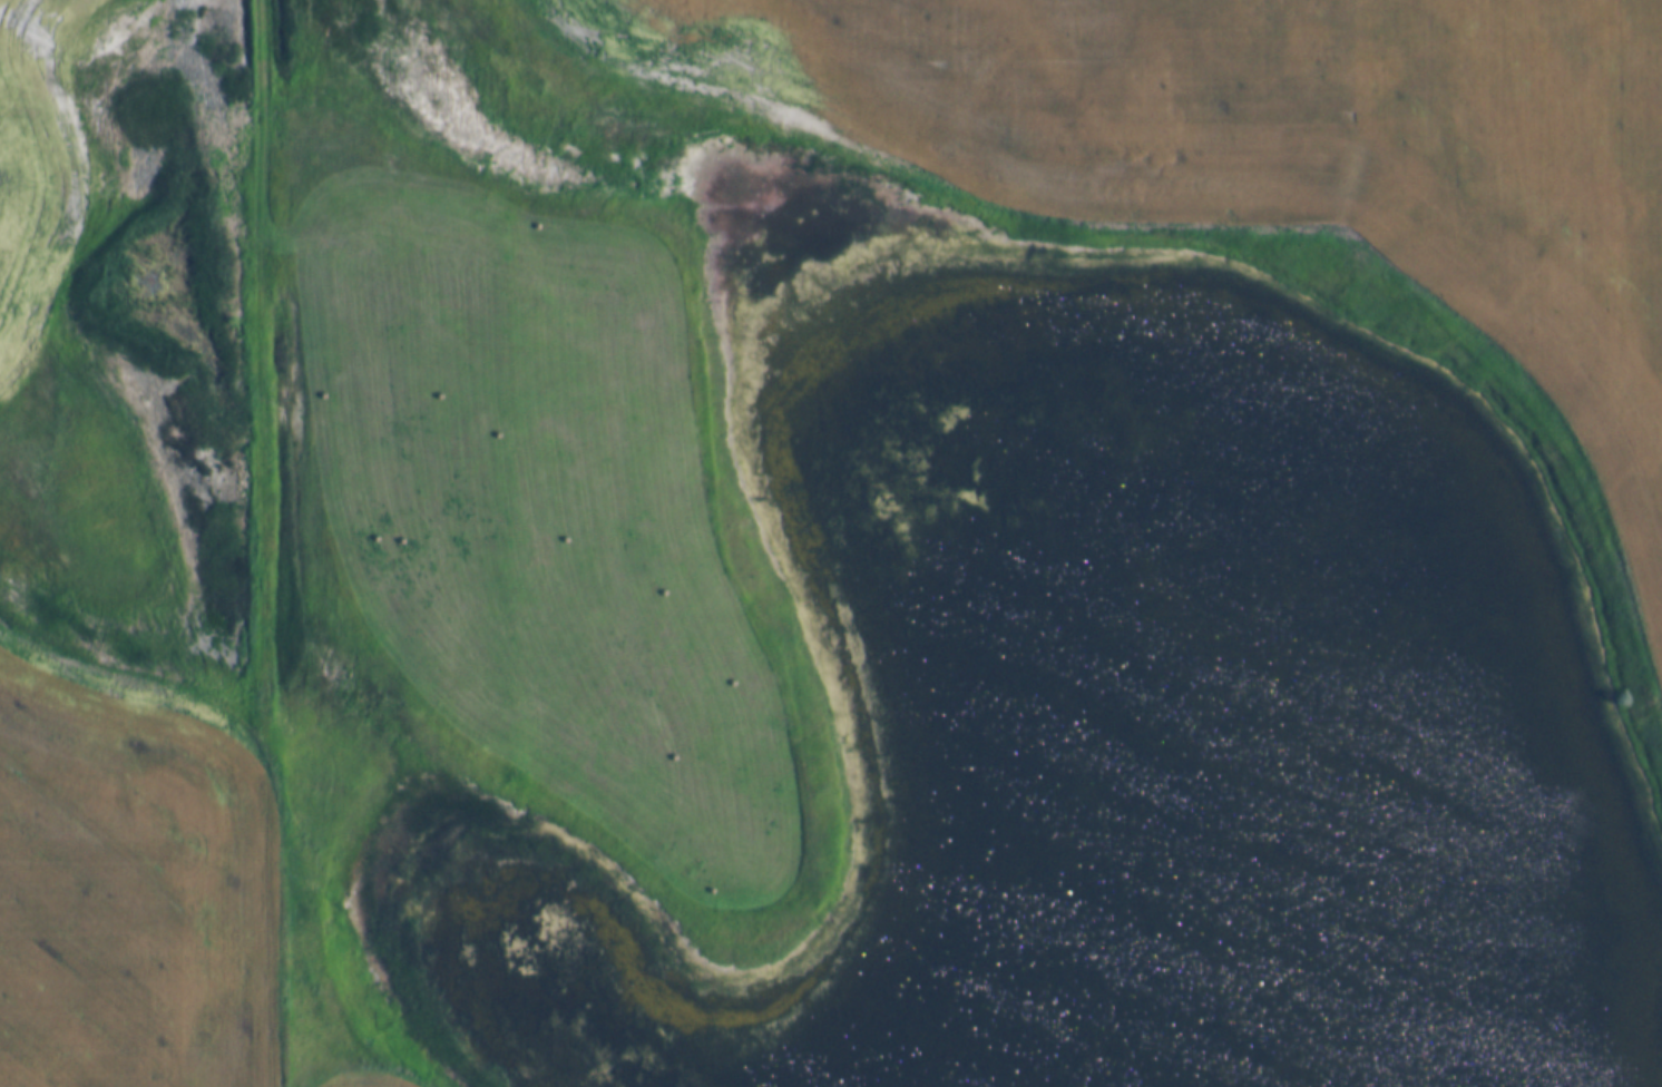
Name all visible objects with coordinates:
road: (276, 542)

